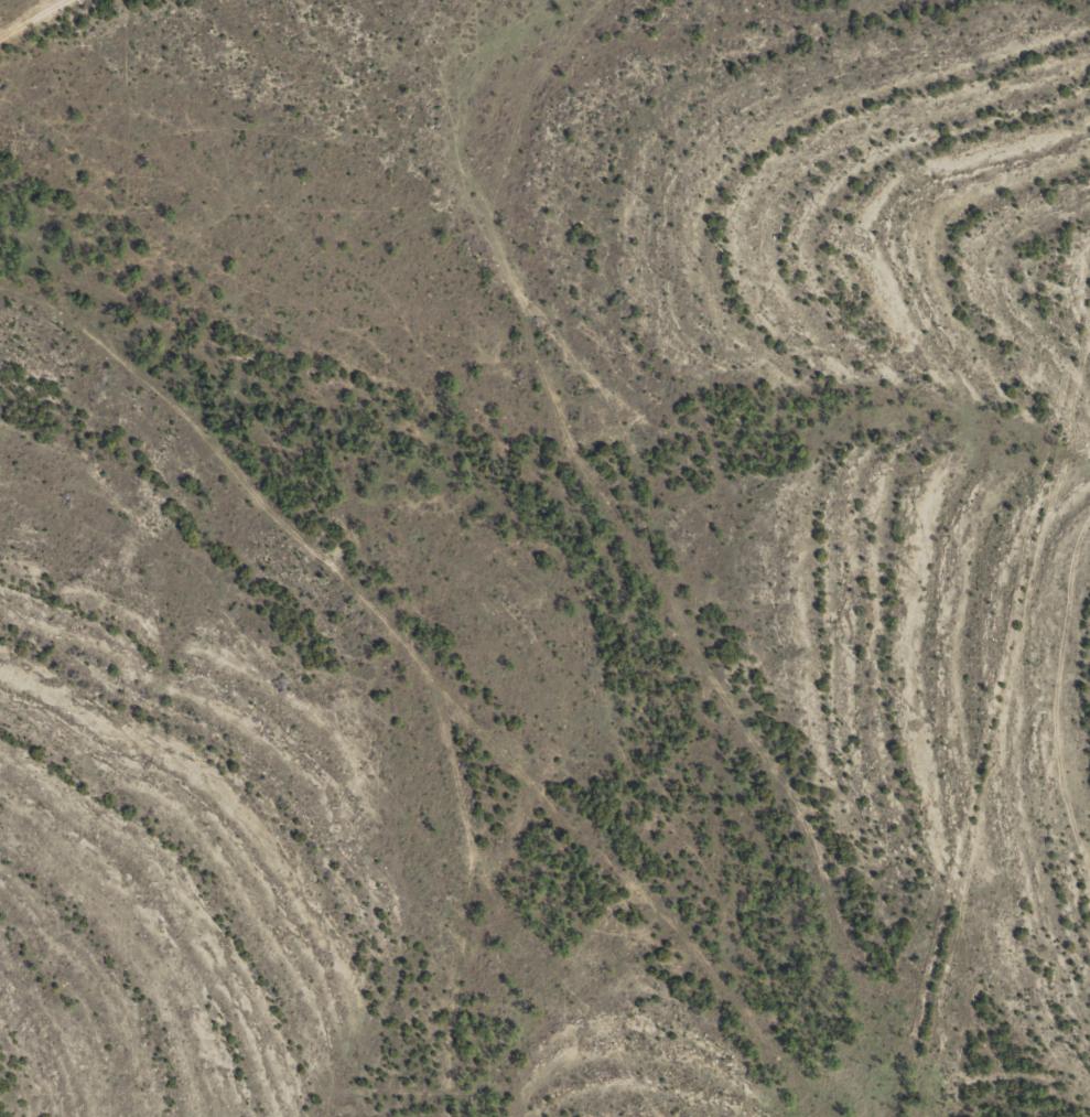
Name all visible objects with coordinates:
road: (24, 7)

